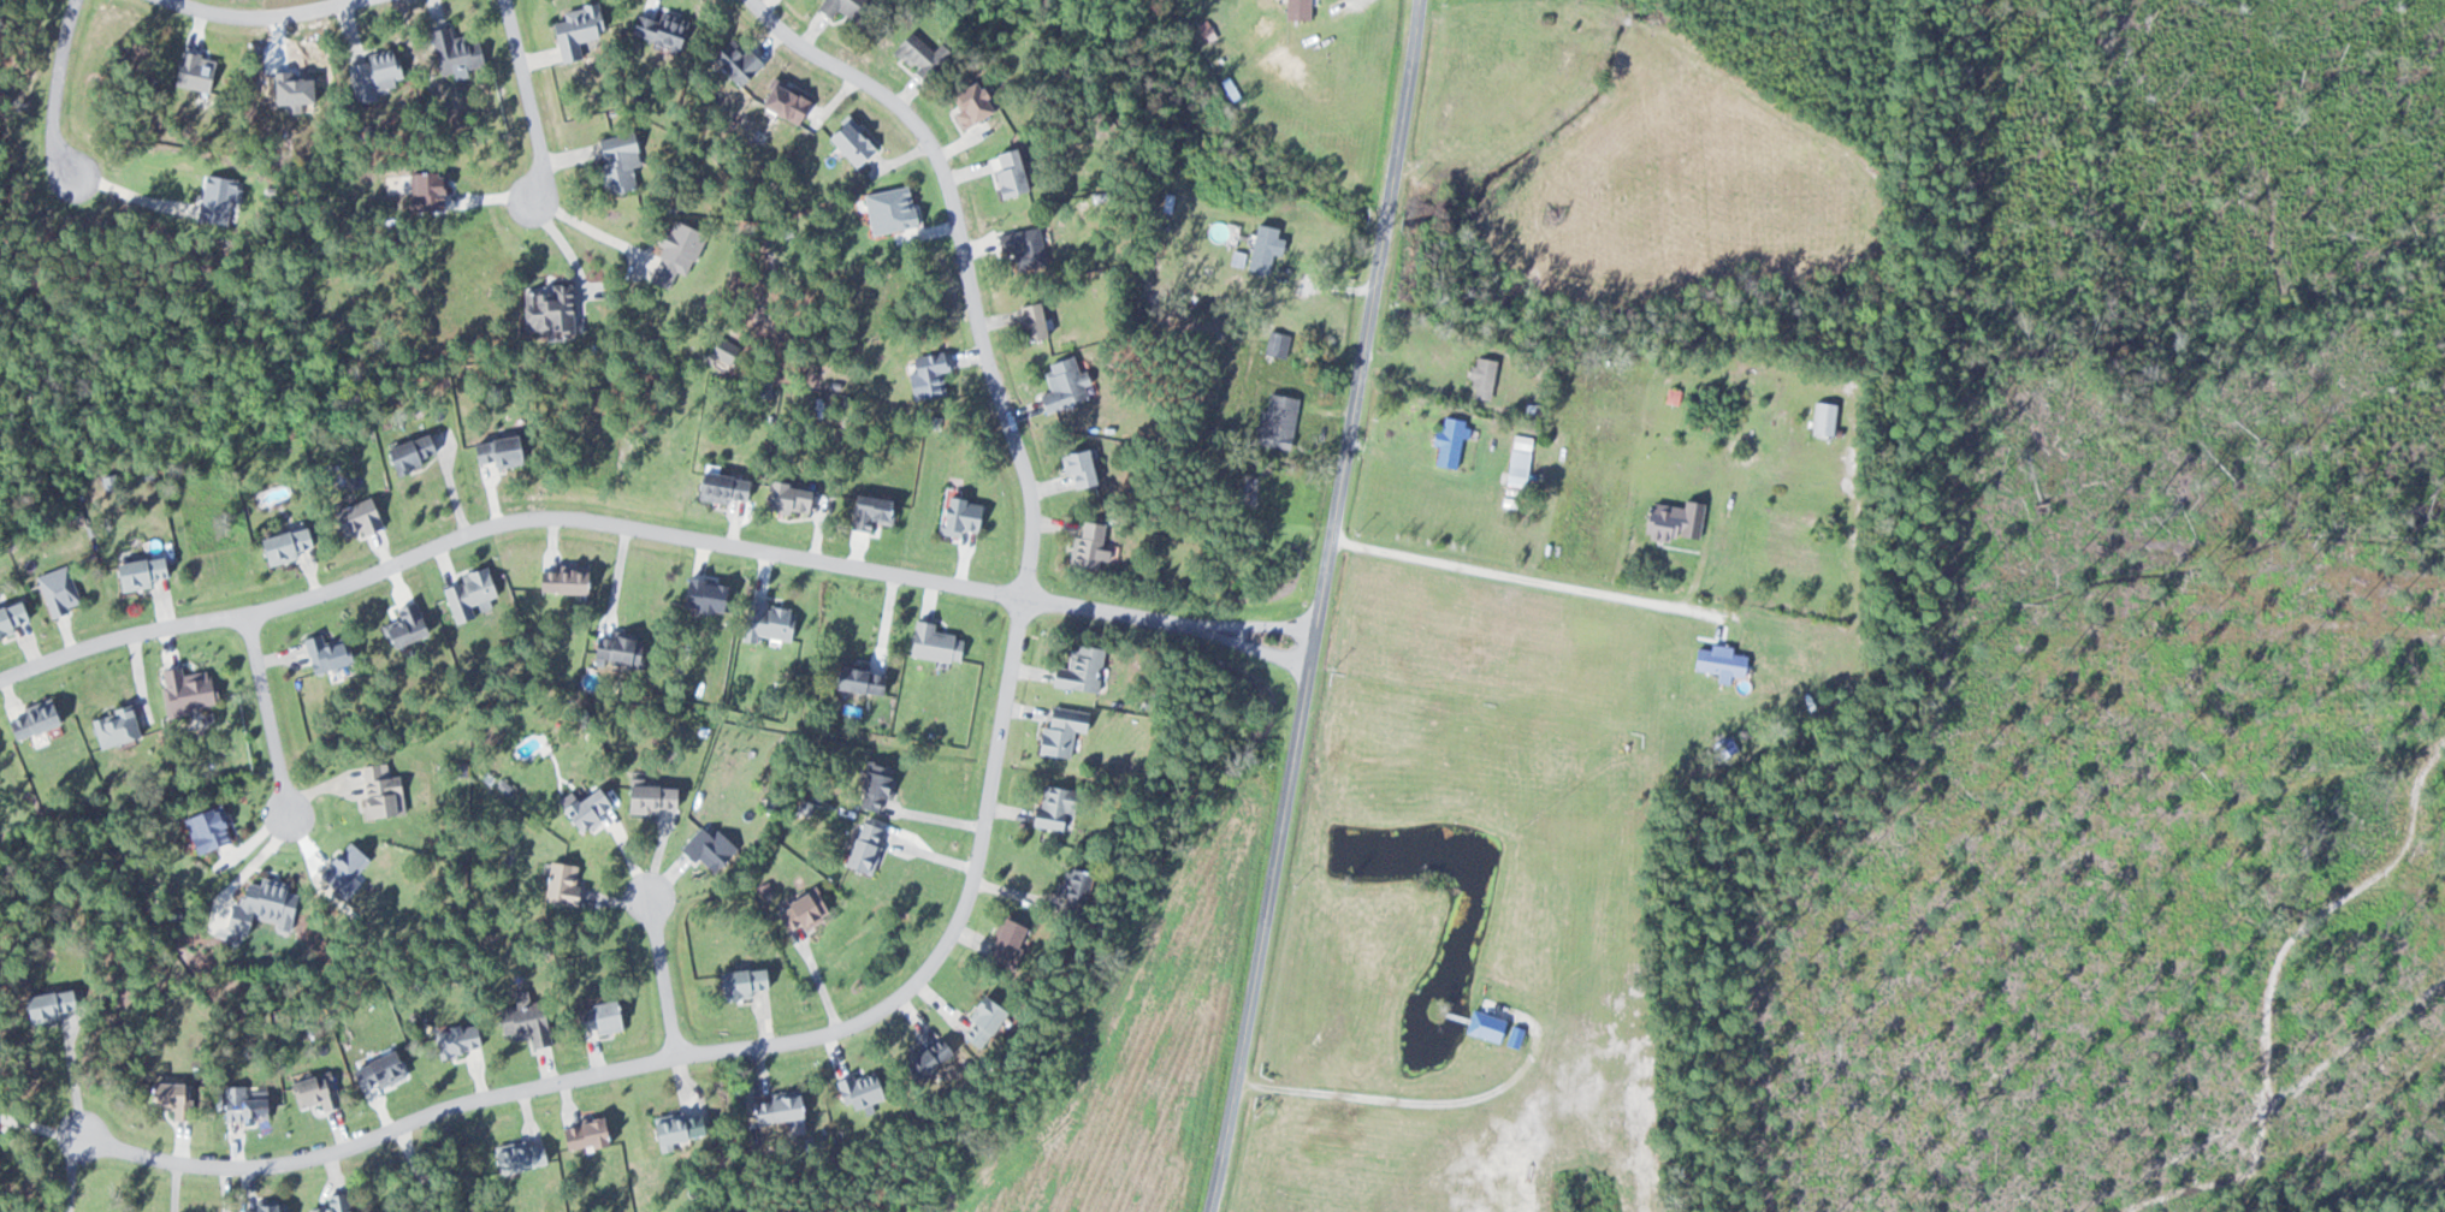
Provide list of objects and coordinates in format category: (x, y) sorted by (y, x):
building: (841, 7)
building: (1296, 8)
road: (264, 14)
building: (658, 29)
building: (576, 31)
building: (454, 50)
building: (917, 55)
building: (736, 60)
building: (373, 73)
road: (54, 90)
road: (531, 99)
building: (970, 103)
building: (783, 105)
building: (848, 142)
building: (616, 161)
building: (1006, 172)
building: (427, 191)
building: (1167, 202)
building: (1023, 245)
building: (1263, 248)
road: (964, 256)
building: (545, 309)
building: (1030, 322)
building: (1277, 344)
building: (924, 376)
building: (1481, 378)
building: (1060, 386)
building: (1824, 418)
building: (1277, 421)
building: (1449, 441)
building: (493, 451)
building: (407, 453)
building: (1518, 459)
building: (1077, 469)
building: (721, 488)
building: (786, 498)
building: (868, 512)
building: (959, 516)
building: (355, 518)
building: (1675, 521)
road: (647, 531)
building: (284, 545)
building: (1087, 546)
building: (137, 574)
building: (561, 580)
building: (467, 592)
road: (1318, 606)
building: (10, 617)
building: (769, 620)
building: (403, 623)
road: (1259, 624)
building: (934, 642)
building: (615, 648)
building: (324, 652)
building: (1718, 660)
building: (1078, 669)
building: (858, 678)
building: (185, 689)
road: (267, 713)
building: (30, 719)
building: (113, 725)
building: (1059, 729)
building: (872, 786)
building: (379, 790)
building: (650, 797)
building: (1053, 806)
building: (584, 807)
building: (206, 827)
building: (863, 846)
building: (708, 850)
building: (345, 869)
building: (564, 883)
building: (1072, 890)
building: (260, 905)
building: (798, 910)
building: (1004, 941)
road: (664, 974)
building: (739, 981)
building: (40, 1004)
building: (596, 1016)
building: (978, 1020)
building: (522, 1022)
building: (1484, 1024)
building: (1515, 1036)
building: (455, 1039)
road: (699, 1051)
building: (923, 1058)
building: (374, 1069)
building: (858, 1088)
building: (313, 1091)
building: (166, 1094)
building: (243, 1103)
building: (772, 1107)
building: (674, 1129)
building: (581, 1133)
building: (516, 1155)
building: (335, 1202)
building: (261, 1207)

